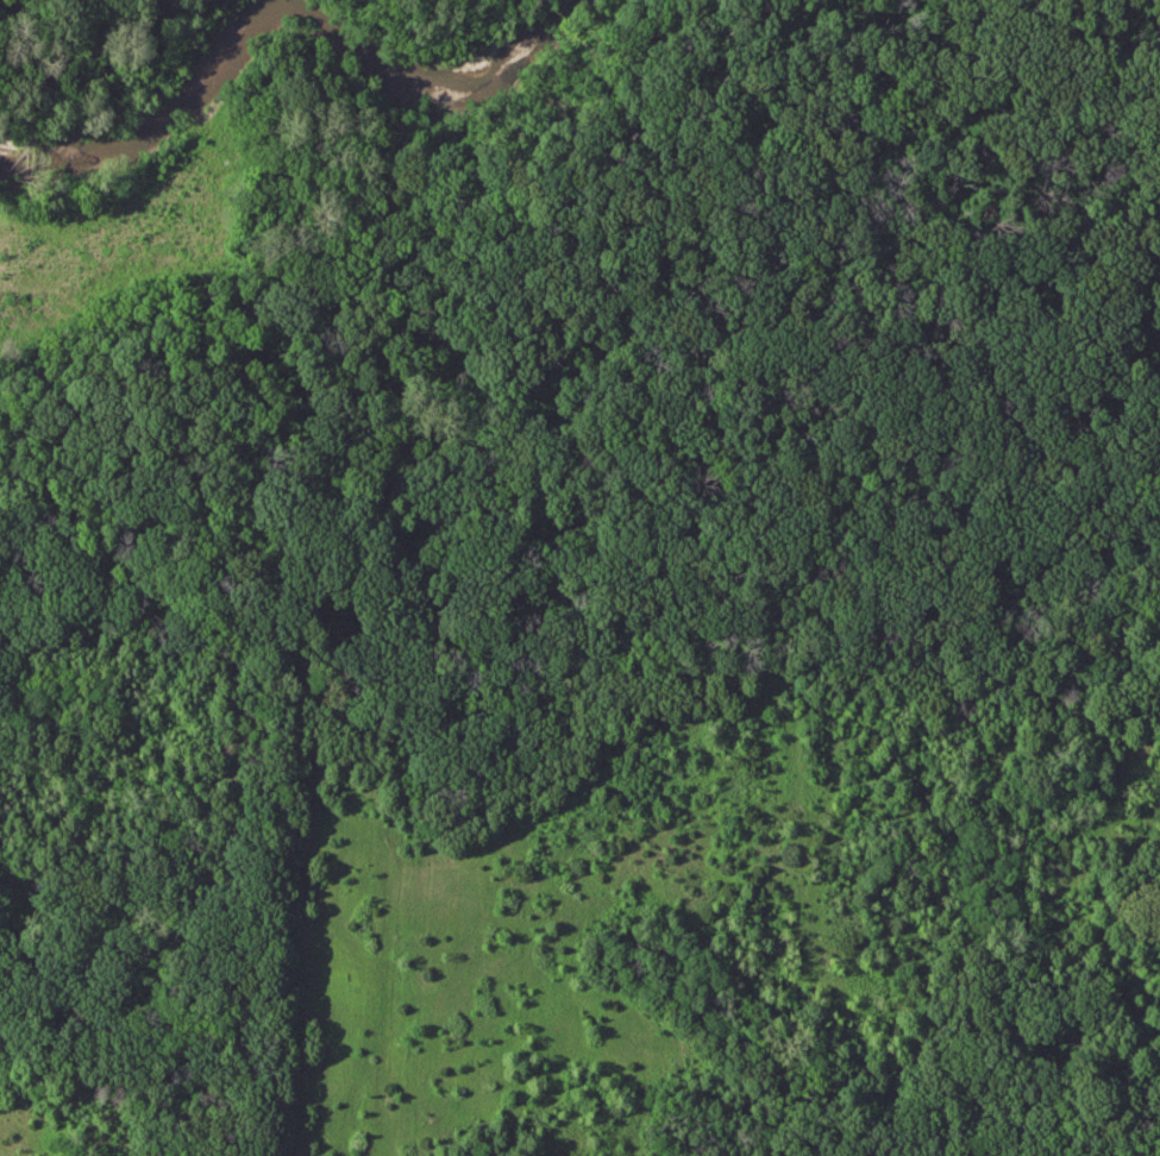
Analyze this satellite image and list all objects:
river: (281, 4)

